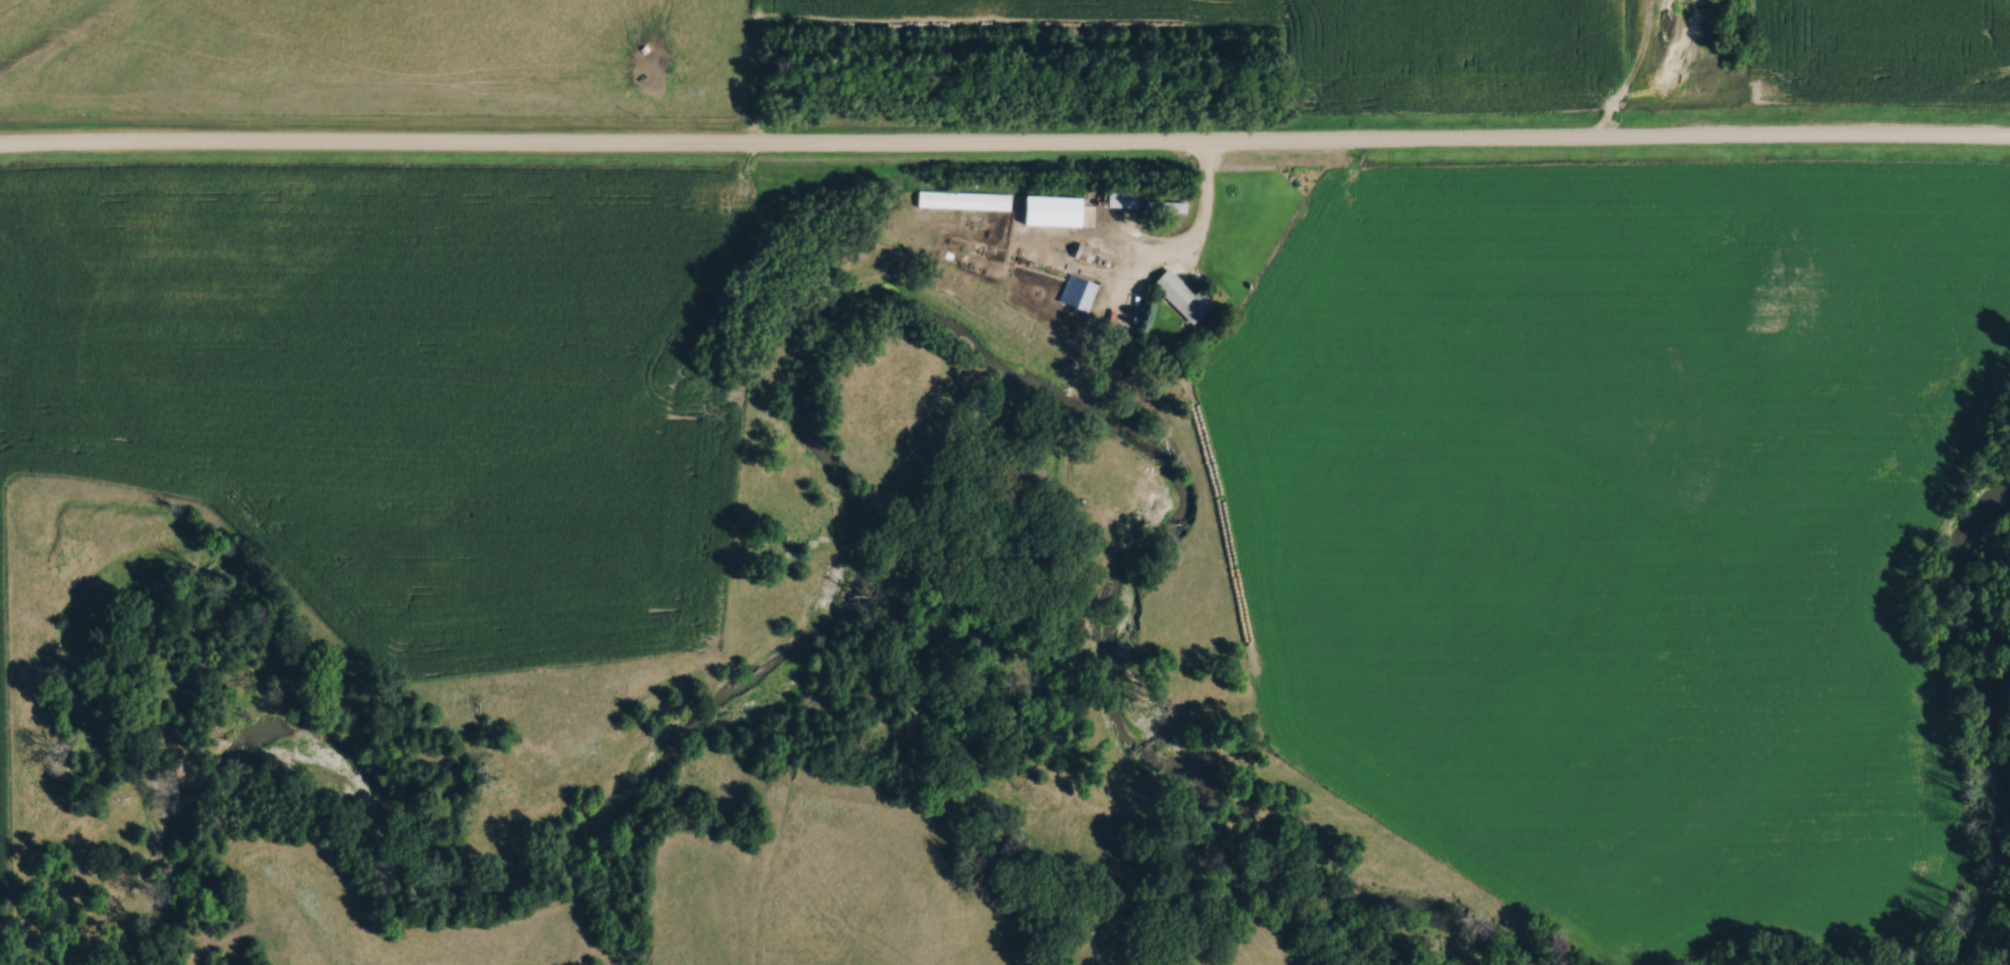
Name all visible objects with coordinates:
road: (1005, 147)
building: (1118, 198)
building: (960, 200)
building: (1163, 206)
building: (1039, 210)
road: (1192, 237)
building: (1071, 293)
building: (1176, 297)

